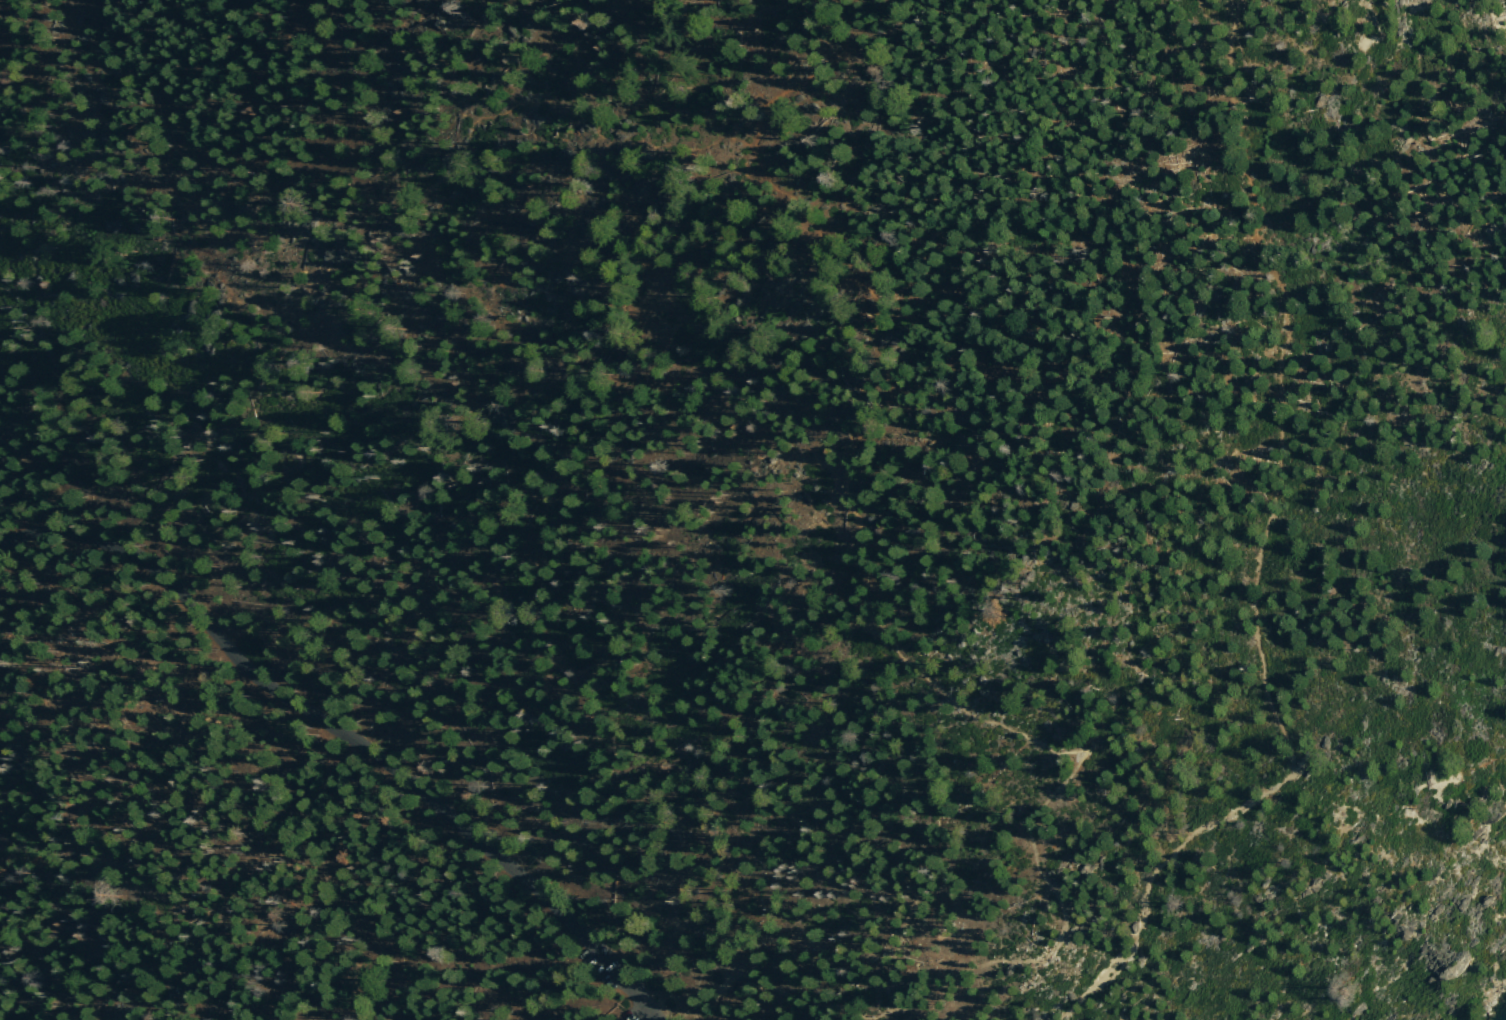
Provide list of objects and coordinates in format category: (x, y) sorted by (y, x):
road: (1261, 556)
road: (929, 681)
road: (343, 737)

